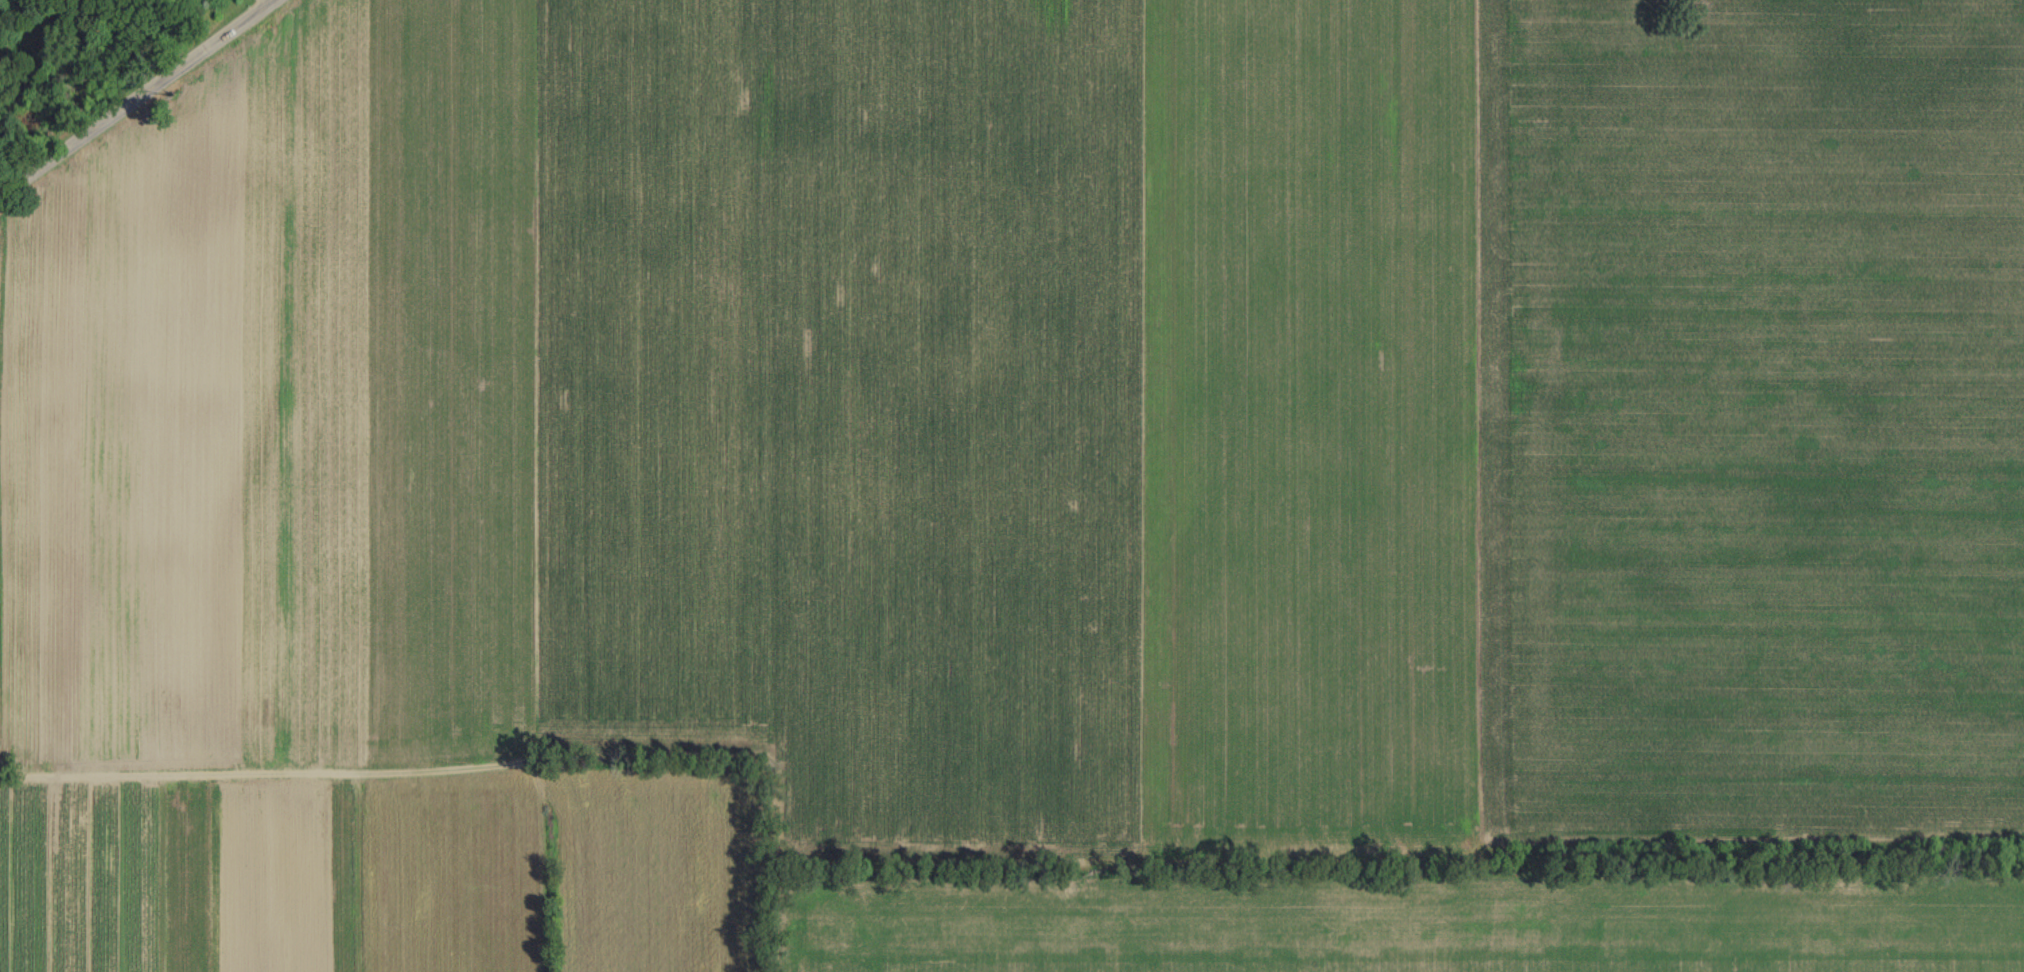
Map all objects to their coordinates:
road: (270, 1)
road: (137, 97)

